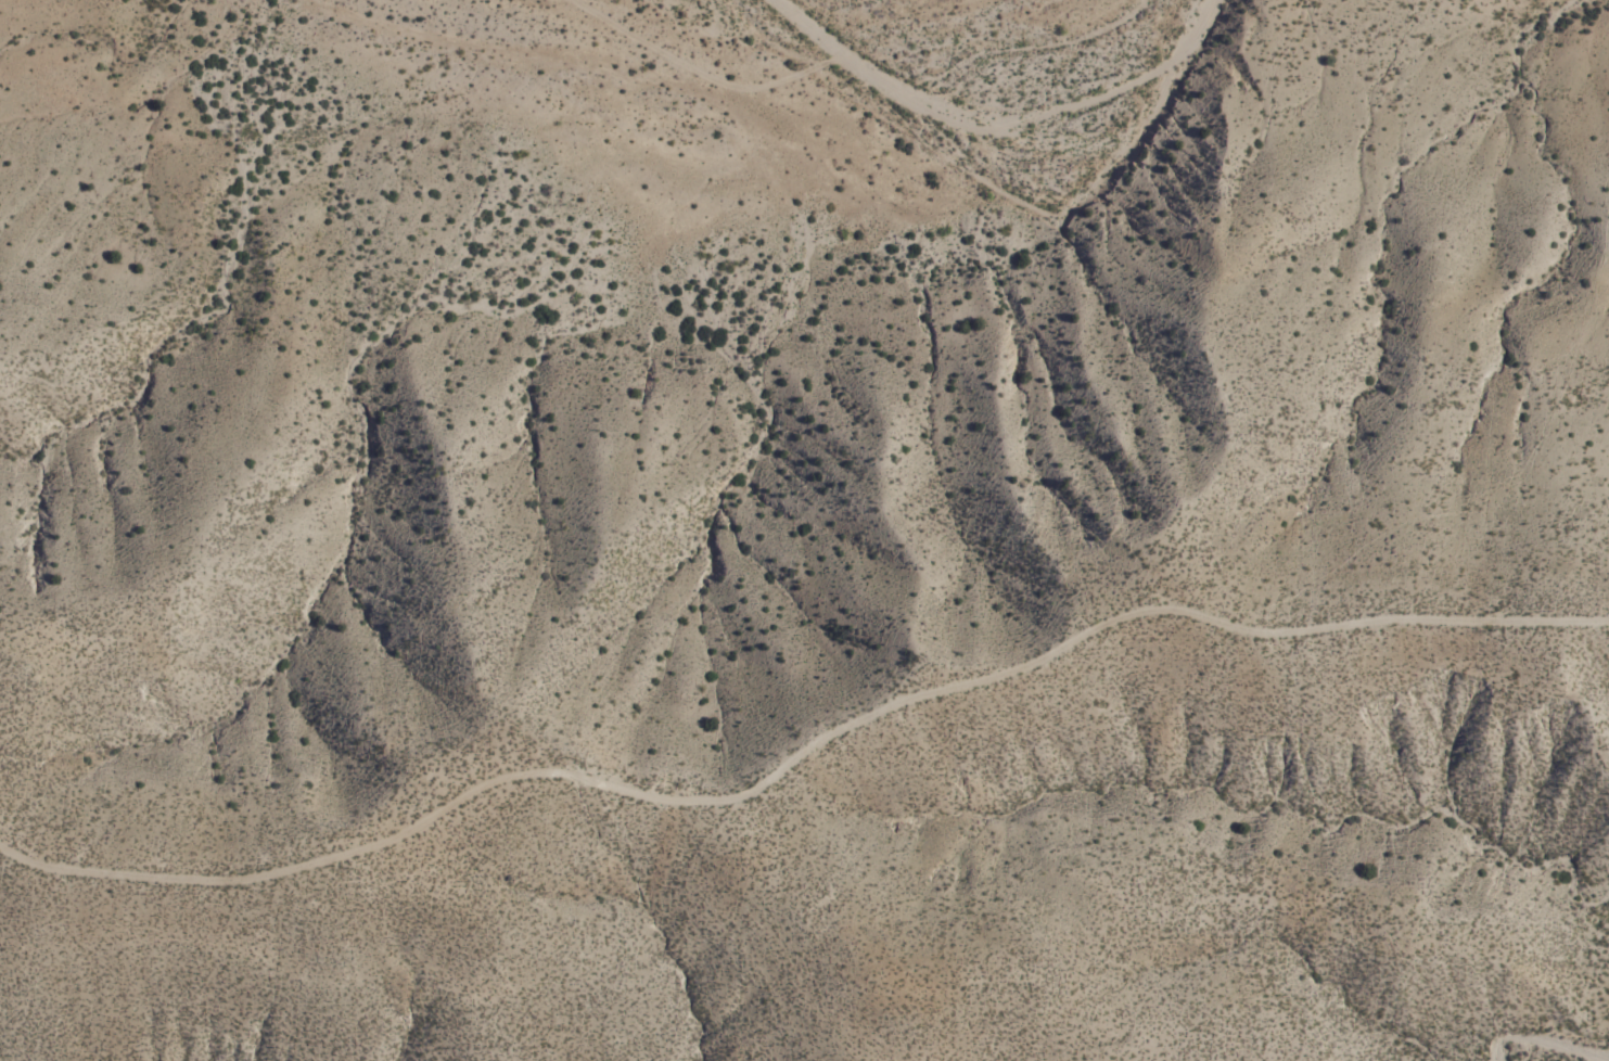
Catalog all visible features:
road: (802, 750)

